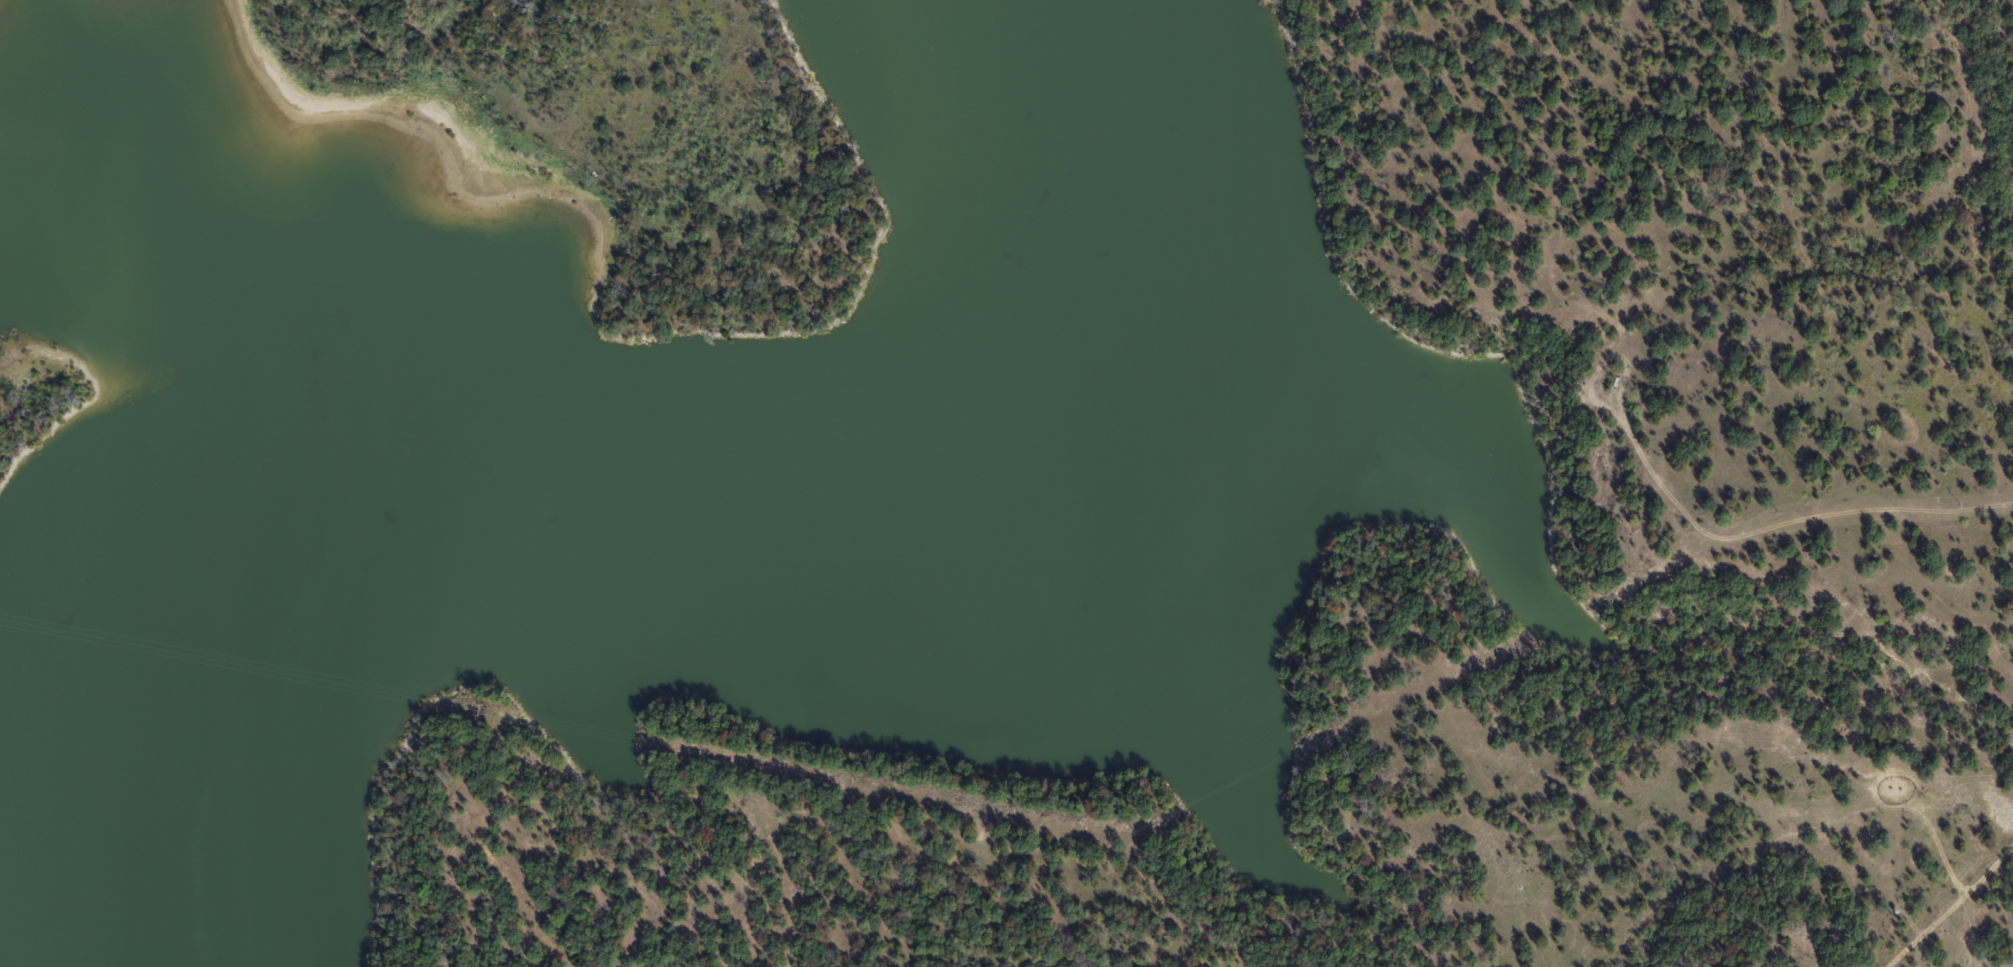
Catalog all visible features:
road: (538, 925)

